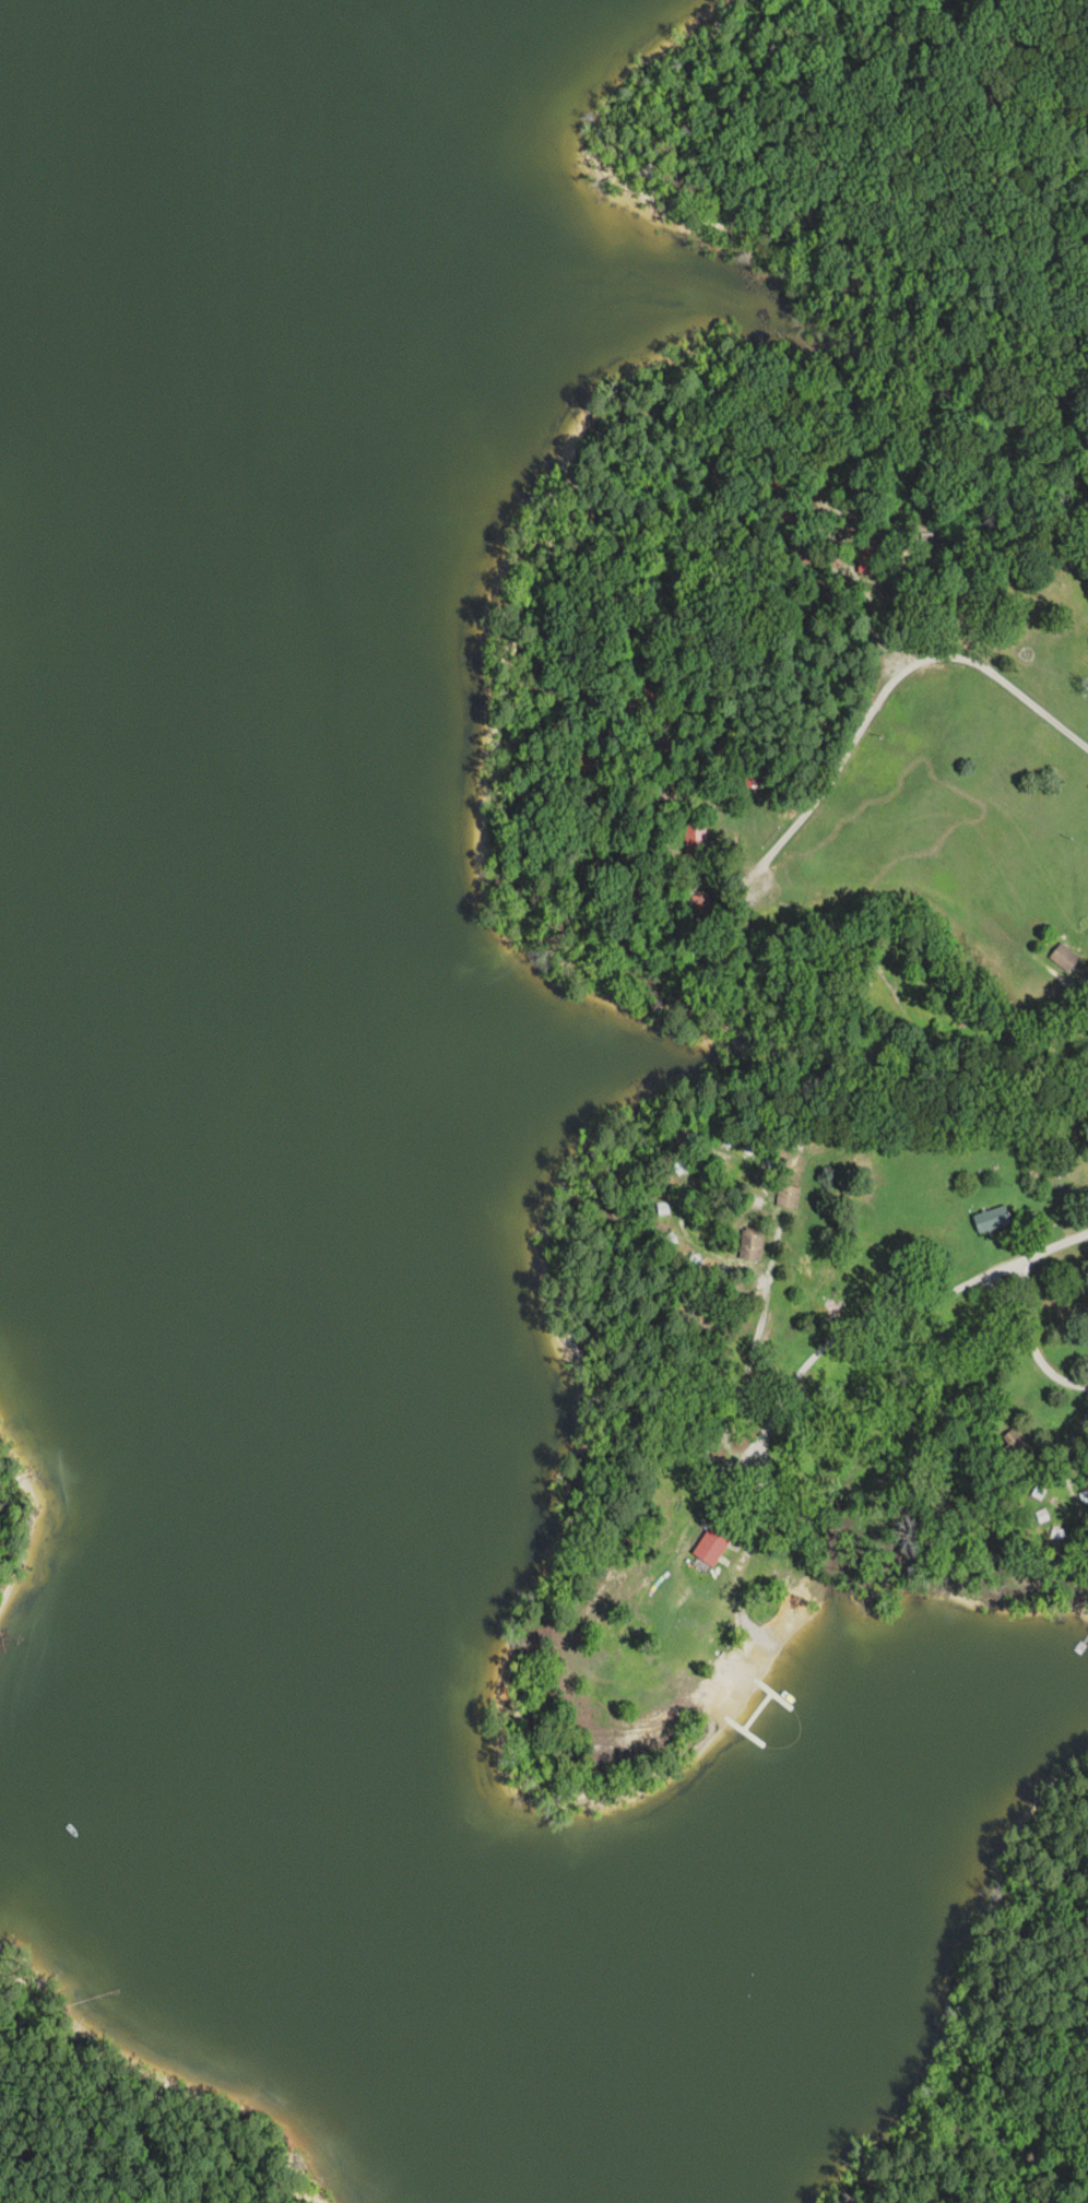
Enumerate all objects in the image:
building: (868, 558)
road: (896, 702)
building: (695, 839)
building: (699, 904)
building: (1064, 957)
building: (788, 1196)
building: (991, 1218)
building: (750, 1244)
road: (913, 1310)
road: (1030, 1338)
building: (1016, 1447)
park: (21, 1484)
building: (712, 1543)
park: (132, 2098)

